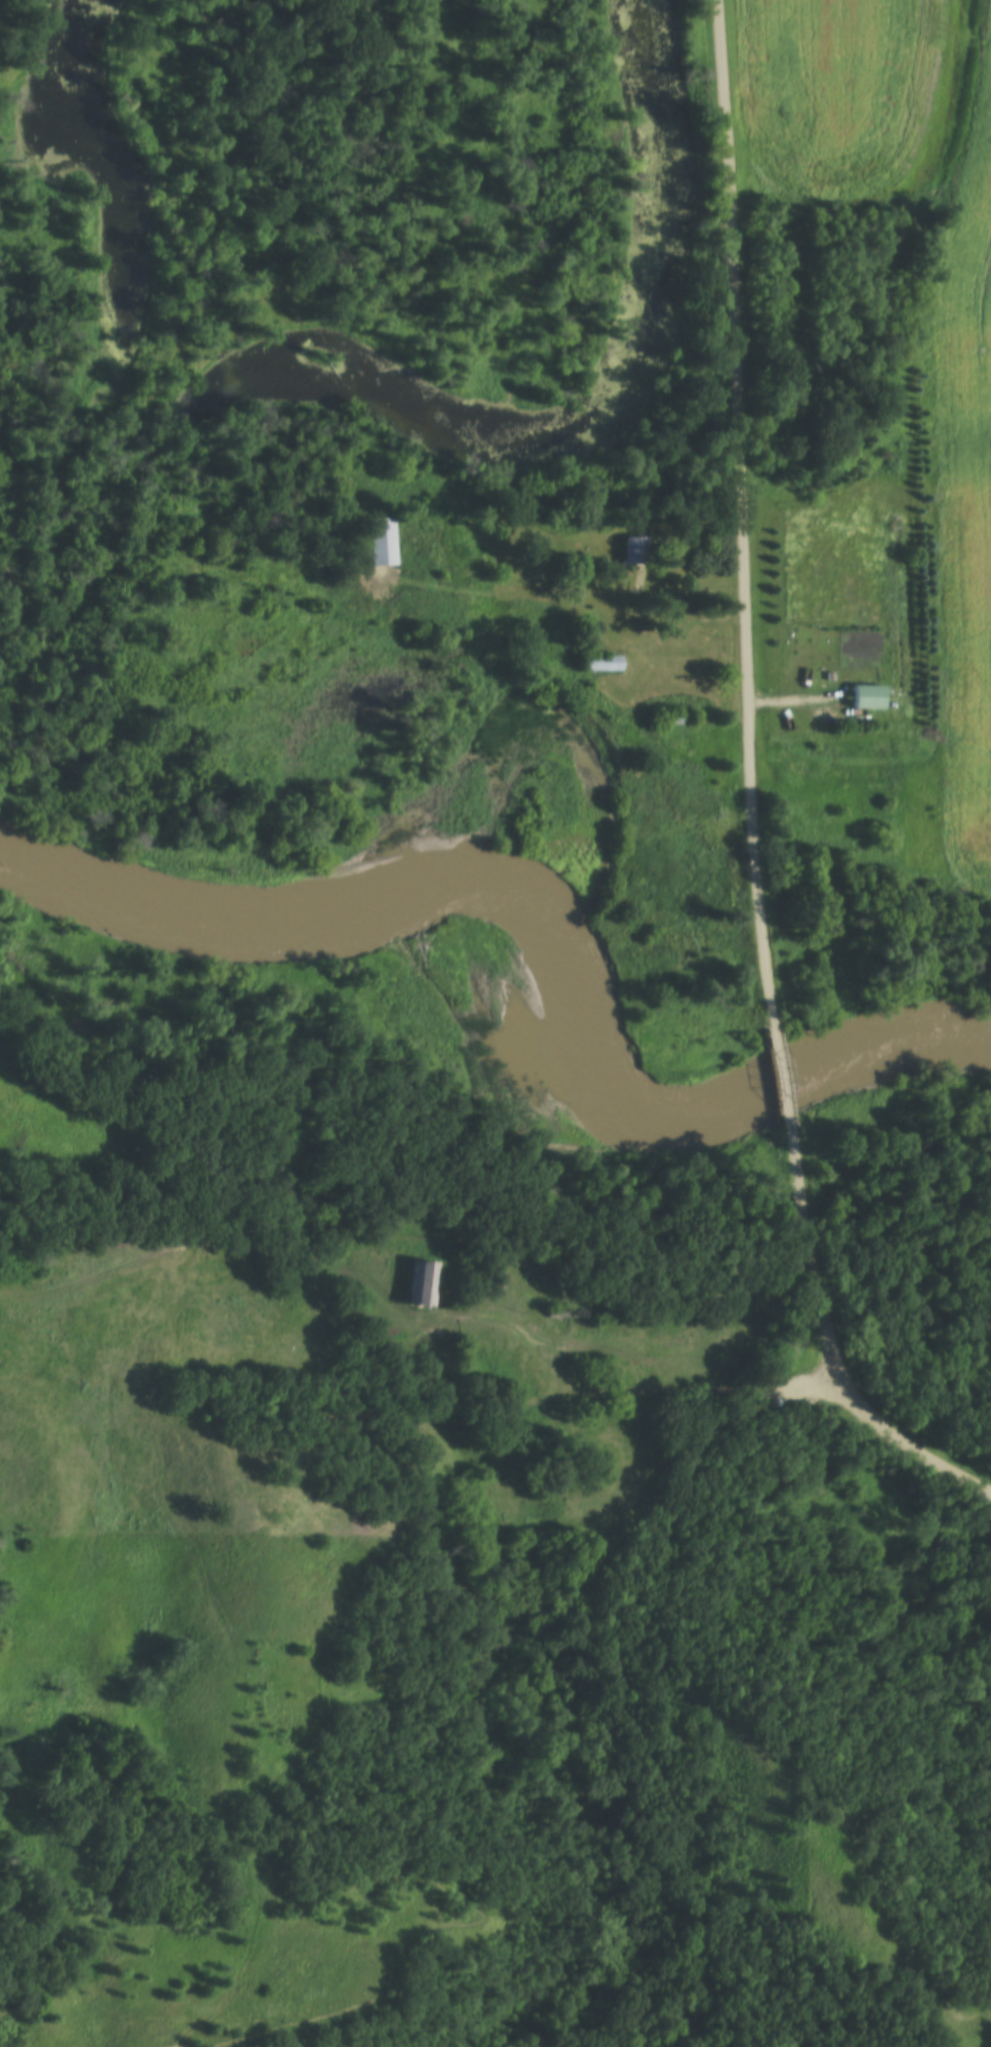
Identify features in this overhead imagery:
road: (739, 512)
building: (384, 539)
building: (611, 549)
building: (598, 610)
building: (605, 660)
building: (867, 696)
building: (678, 717)
river: (556, 844)
road: (784, 1073)
building: (425, 1281)
building: (554, 1311)
building: (643, 1321)
road: (829, 1345)
road: (642, 1397)

